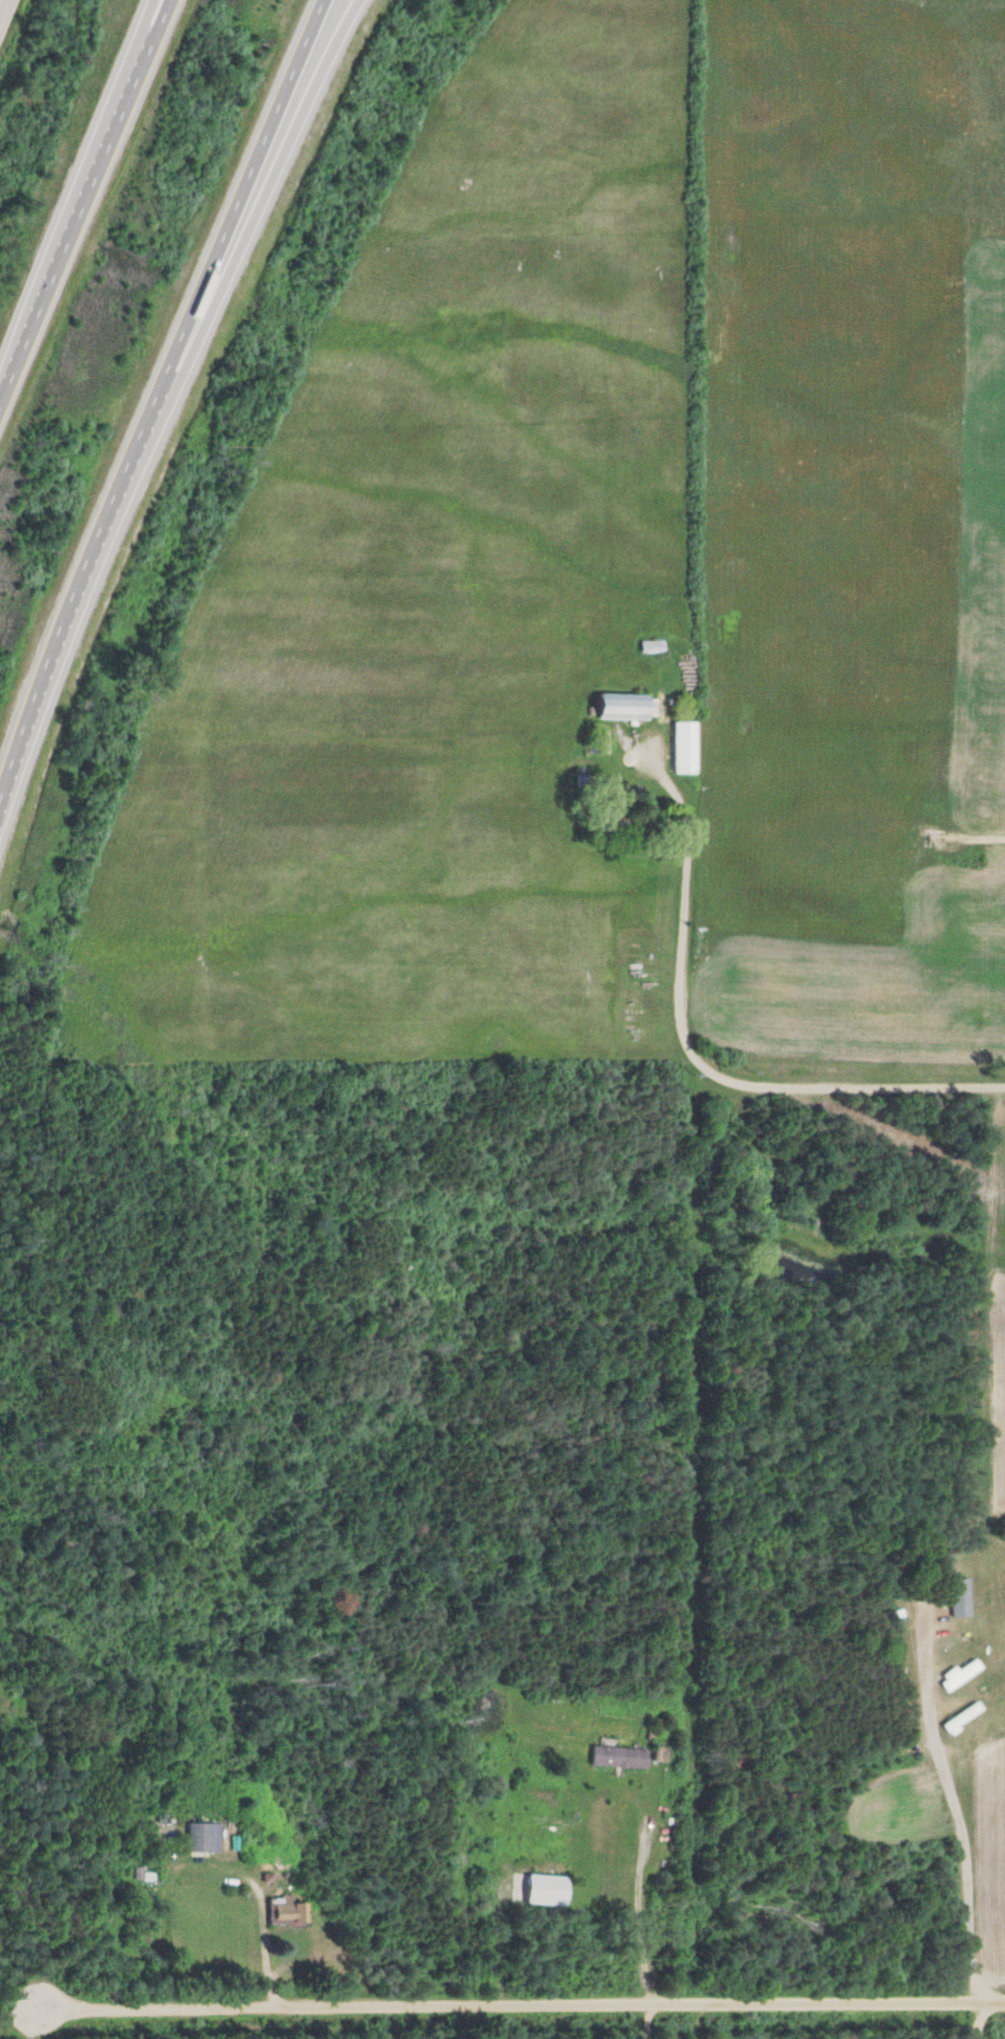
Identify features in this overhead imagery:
road: (89, 139)
road: (82, 199)
road: (247, 242)
road: (154, 397)
building: (649, 646)
building: (622, 707)
building: (680, 748)
road: (756, 913)
road: (726, 1067)
building: (955, 1598)
building: (955, 1674)
building: (957, 1717)
building: (656, 1754)
building: (615, 1758)
building: (893, 1772)
building: (199, 1838)
road: (995, 1905)
building: (281, 1911)
road: (518, 1988)
road: (400, 2014)

